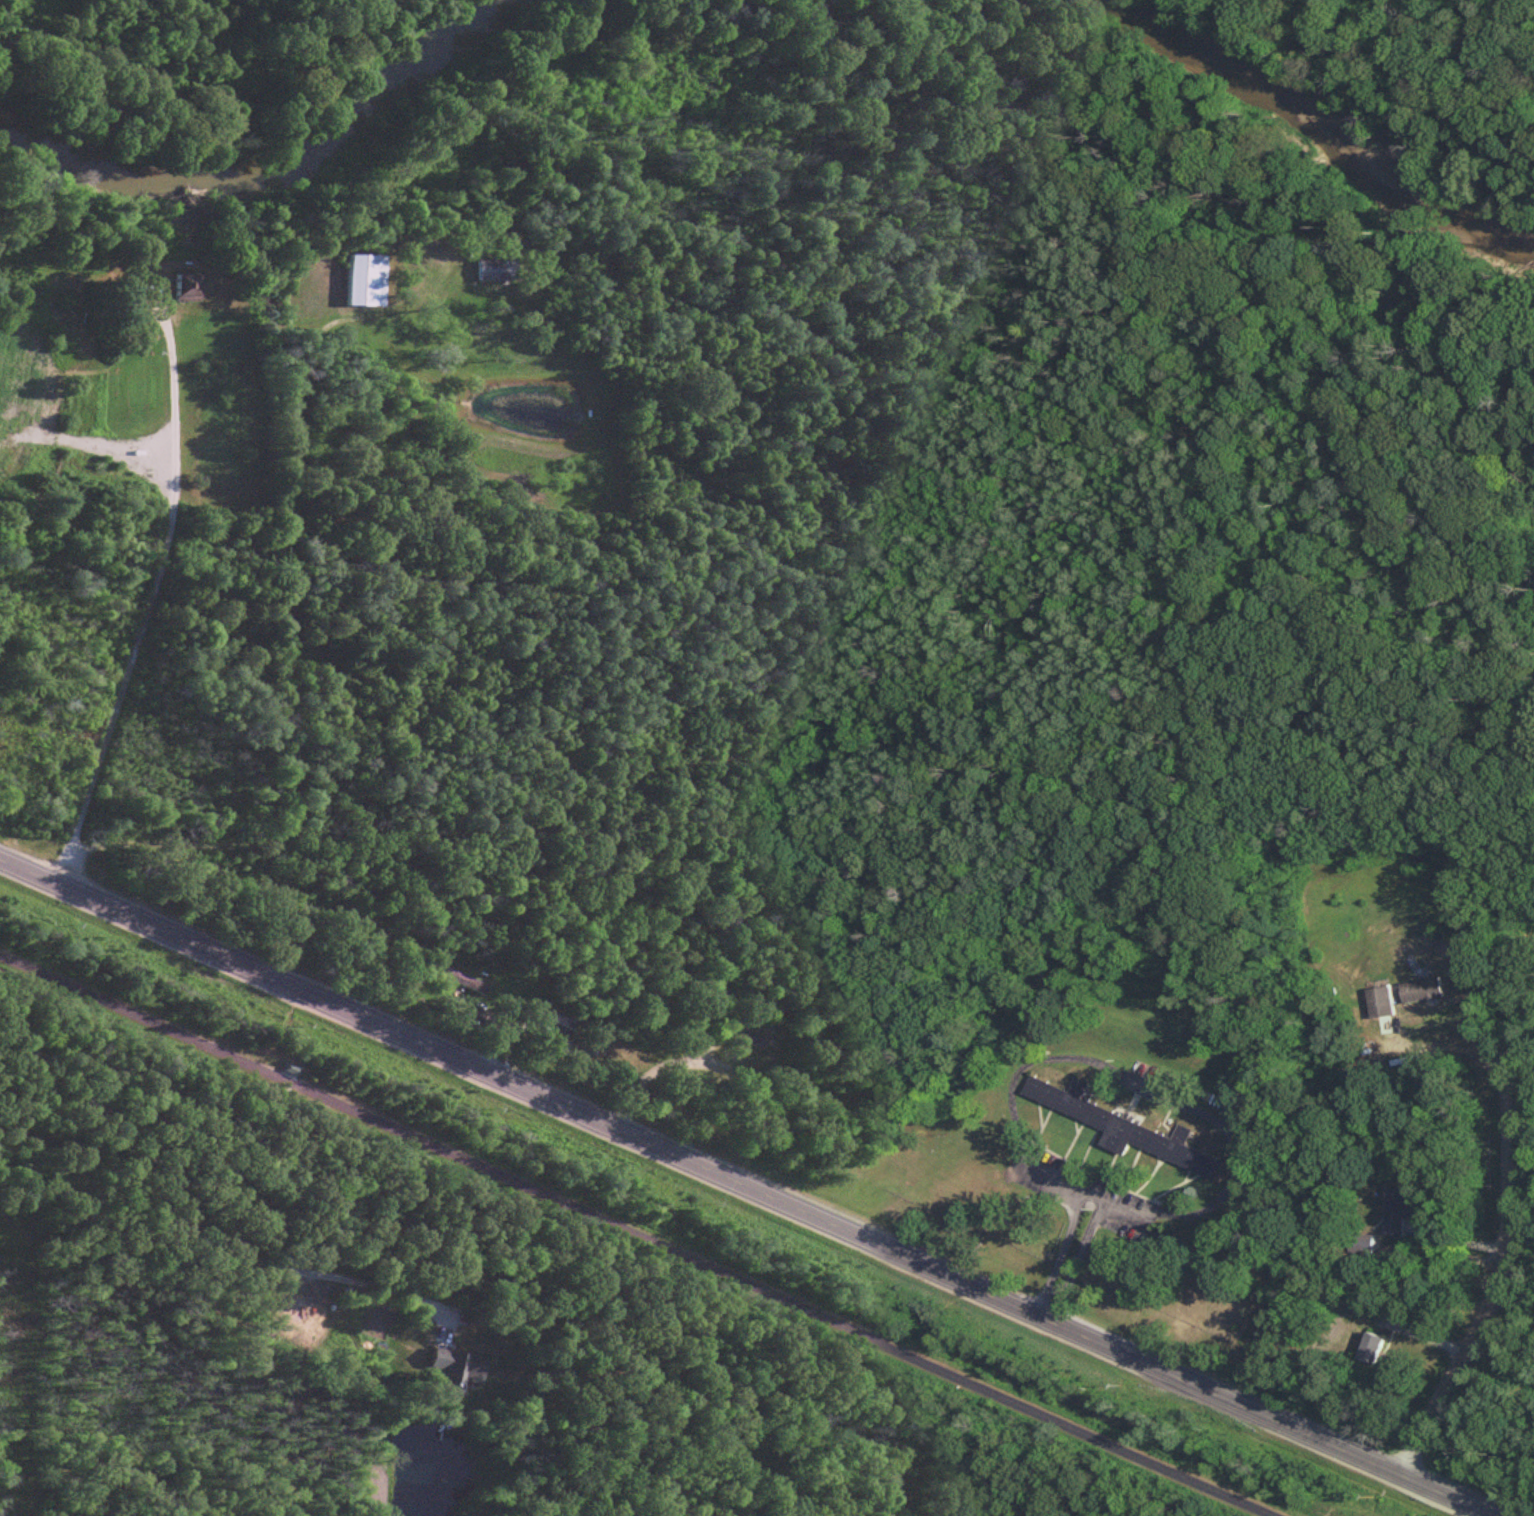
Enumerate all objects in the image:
road: (1489, 11)
road: (1320, 34)
road: (1466, 69)
river: (1324, 120)
river: (291, 162)
building: (484, 271)
building: (357, 281)
building: (178, 288)
road: (153, 597)
road: (586, 918)
building: (455, 988)
building: (1423, 990)
building: (1382, 1003)
road: (1448, 1018)
building: (735, 1040)
road: (1519, 1062)
road: (1198, 1113)
building: (1122, 1128)
road: (748, 1189)
building: (1398, 1211)
road: (636, 1235)
road: (1497, 1285)
road: (1509, 1296)
building: (1373, 1348)
building: (452, 1368)

